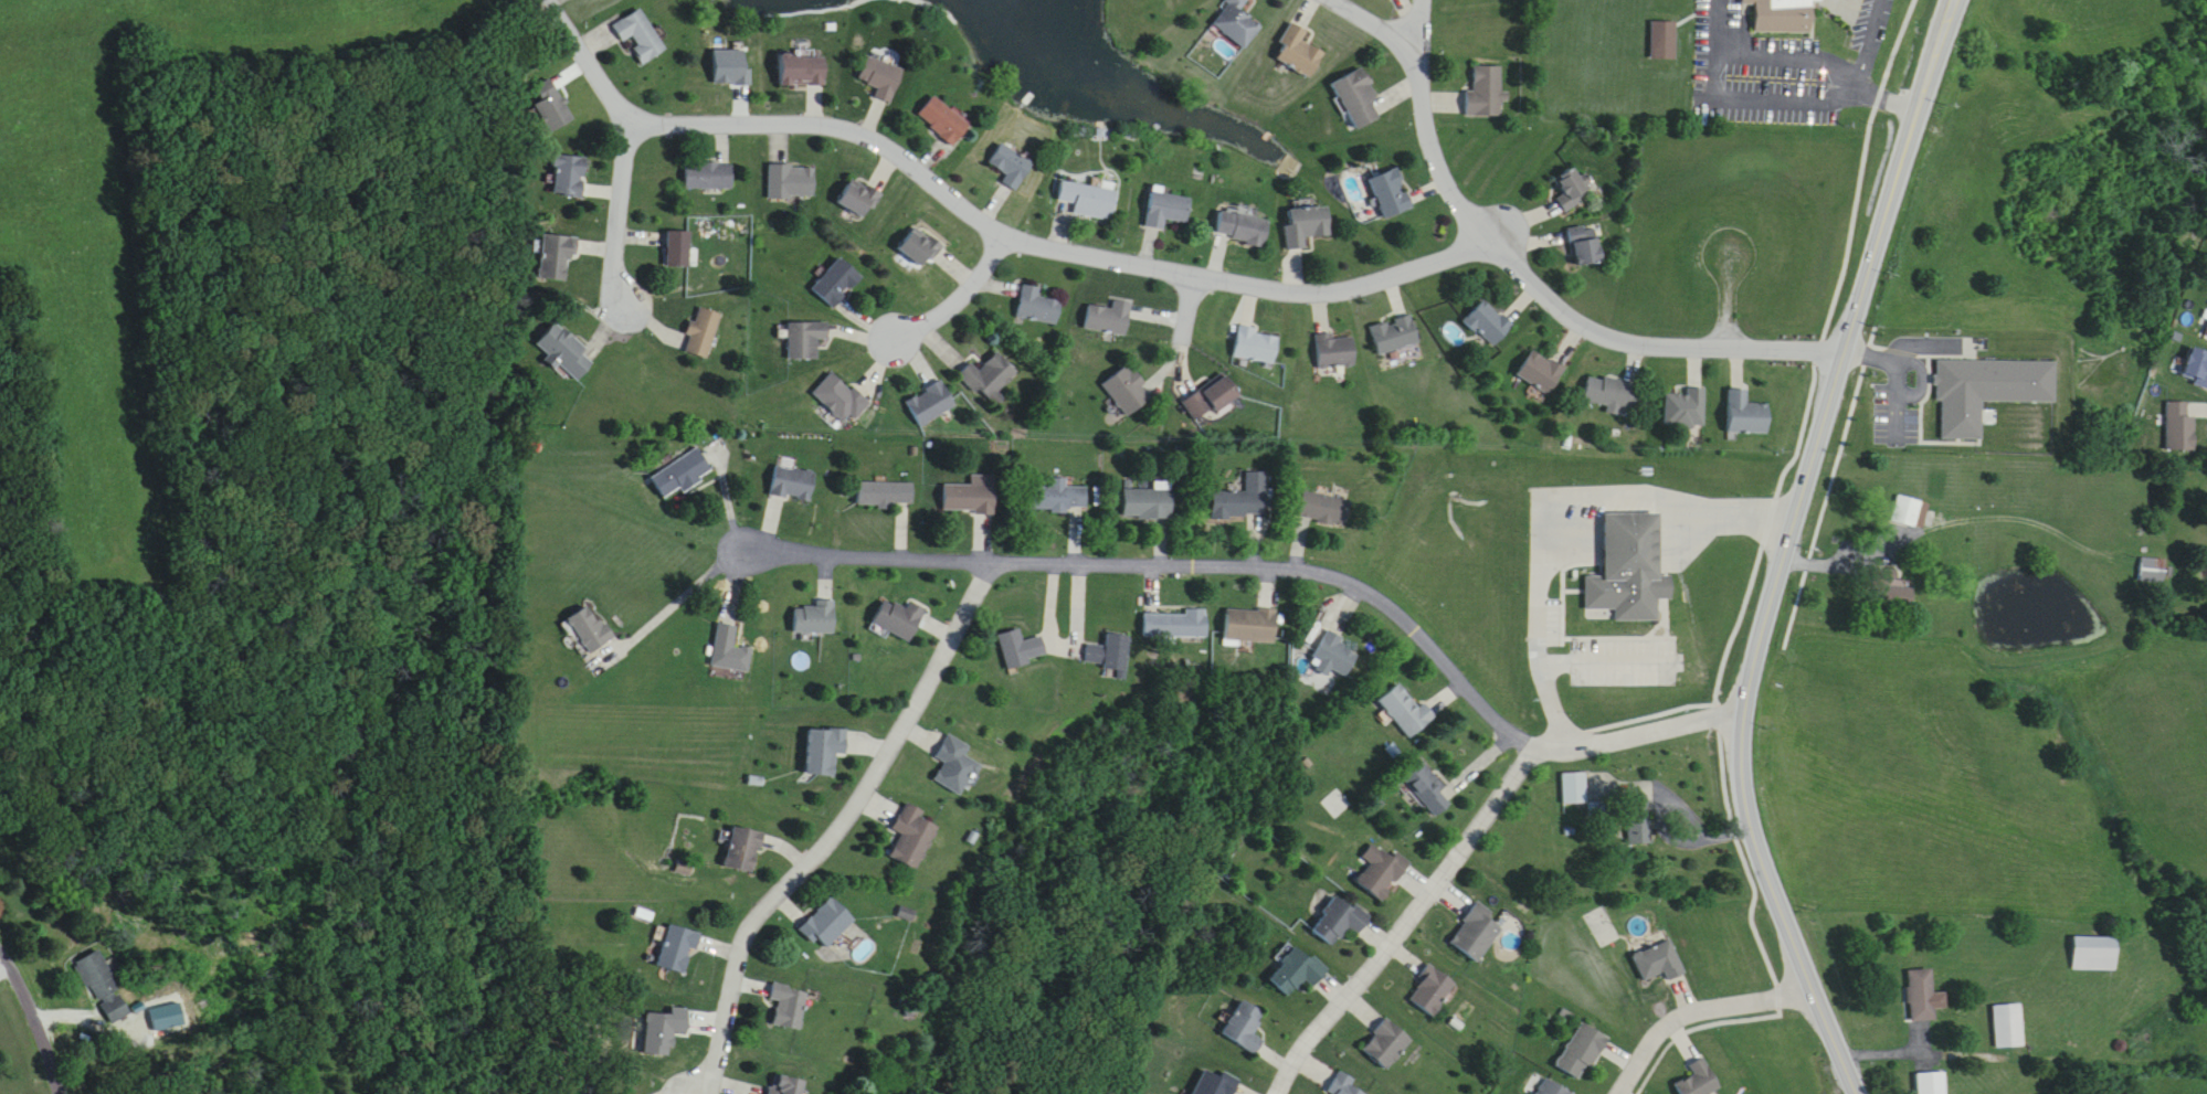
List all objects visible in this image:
building: (1778, 12)
parking lot: (1870, 19)
road: (1413, 22)
building: (1236, 23)
building: (1659, 24)
building: (641, 36)
road: (1869, 36)
road: (1792, 40)
building: (1299, 52)
parking lot: (1763, 61)
building: (801, 71)
building: (880, 78)
road: (1747, 84)
road: (1889, 87)
building: (1486, 93)
building: (1359, 98)
building: (552, 106)
road: (1425, 109)
building: (943, 121)
road: (832, 130)
road: (625, 145)
building: (1010, 167)
building: (570, 174)
building: (709, 176)
building: (791, 181)
building: (1573, 189)
building: (1391, 194)
building: (857, 198)
building: (1089, 201)
building: (1168, 210)
building: (1307, 226)
building: (1243, 229)
building: (920, 246)
building: (679, 248)
building: (1587, 248)
building: (558, 257)
road: (1439, 264)
building: (836, 283)
road: (961, 299)
building: (1037, 307)
road: (1729, 307)
building: (1109, 317)
building: (1488, 322)
building: (703, 331)
building: (1394, 334)
road: (1185, 337)
building: (805, 339)
building: (1257, 346)
building: (566, 351)
building: (1334, 351)
building: (1542, 372)
building: (991, 378)
road: (1893, 378)
building: (1128, 390)
building: (1613, 393)
building: (839, 399)
building: (1212, 399)
building: (931, 403)
building: (1686, 406)
building: (1746, 414)
building: (2182, 426)
building: (682, 474)
building: (793, 482)
building: (886, 495)
building: (972, 496)
building: (1059, 497)
road: (1544, 497)
building: (1245, 498)
building: (1149, 502)
building: (1324, 508)
building: (1910, 512)
road: (1946, 519)
road: (1785, 546)
road: (1171, 563)
building: (1618, 564)
building: (2154, 570)
road: (1743, 588)
road: (673, 607)
building: (816, 617)
building: (901, 618)
building: (1179, 624)
building: (1253, 625)
building: (590, 629)
building: (1023, 648)
building: (730, 649)
building: (1334, 655)
building: (1112, 656)
road: (1648, 701)
building: (1405, 710)
road: (1636, 729)
building: (825, 751)
building: (955, 765)
building: (1426, 787)
building: (1575, 788)
building: (1639, 827)
road: (838, 828)
building: (912, 837)
building: (743, 849)
building: (1383, 872)
road: (1406, 916)
building: (1342, 921)
building: (827, 924)
building: (1478, 933)
building: (678, 949)
building: (2095, 953)
building: (1297, 970)
building: (104, 988)
building: (1434, 990)
building: (1922, 996)
building: (790, 1007)
road: (1696, 1007)
road: (35, 1022)
building: (2009, 1026)
building: (1245, 1027)
building: (1387, 1044)
building: (1583, 1051)
road: (2007, 1059)
building: (1700, 1080)
building: (1216, 1083)
building: (1932, 1083)
building: (786, 1085)
building: (1344, 1085)
building: (1553, 1088)

